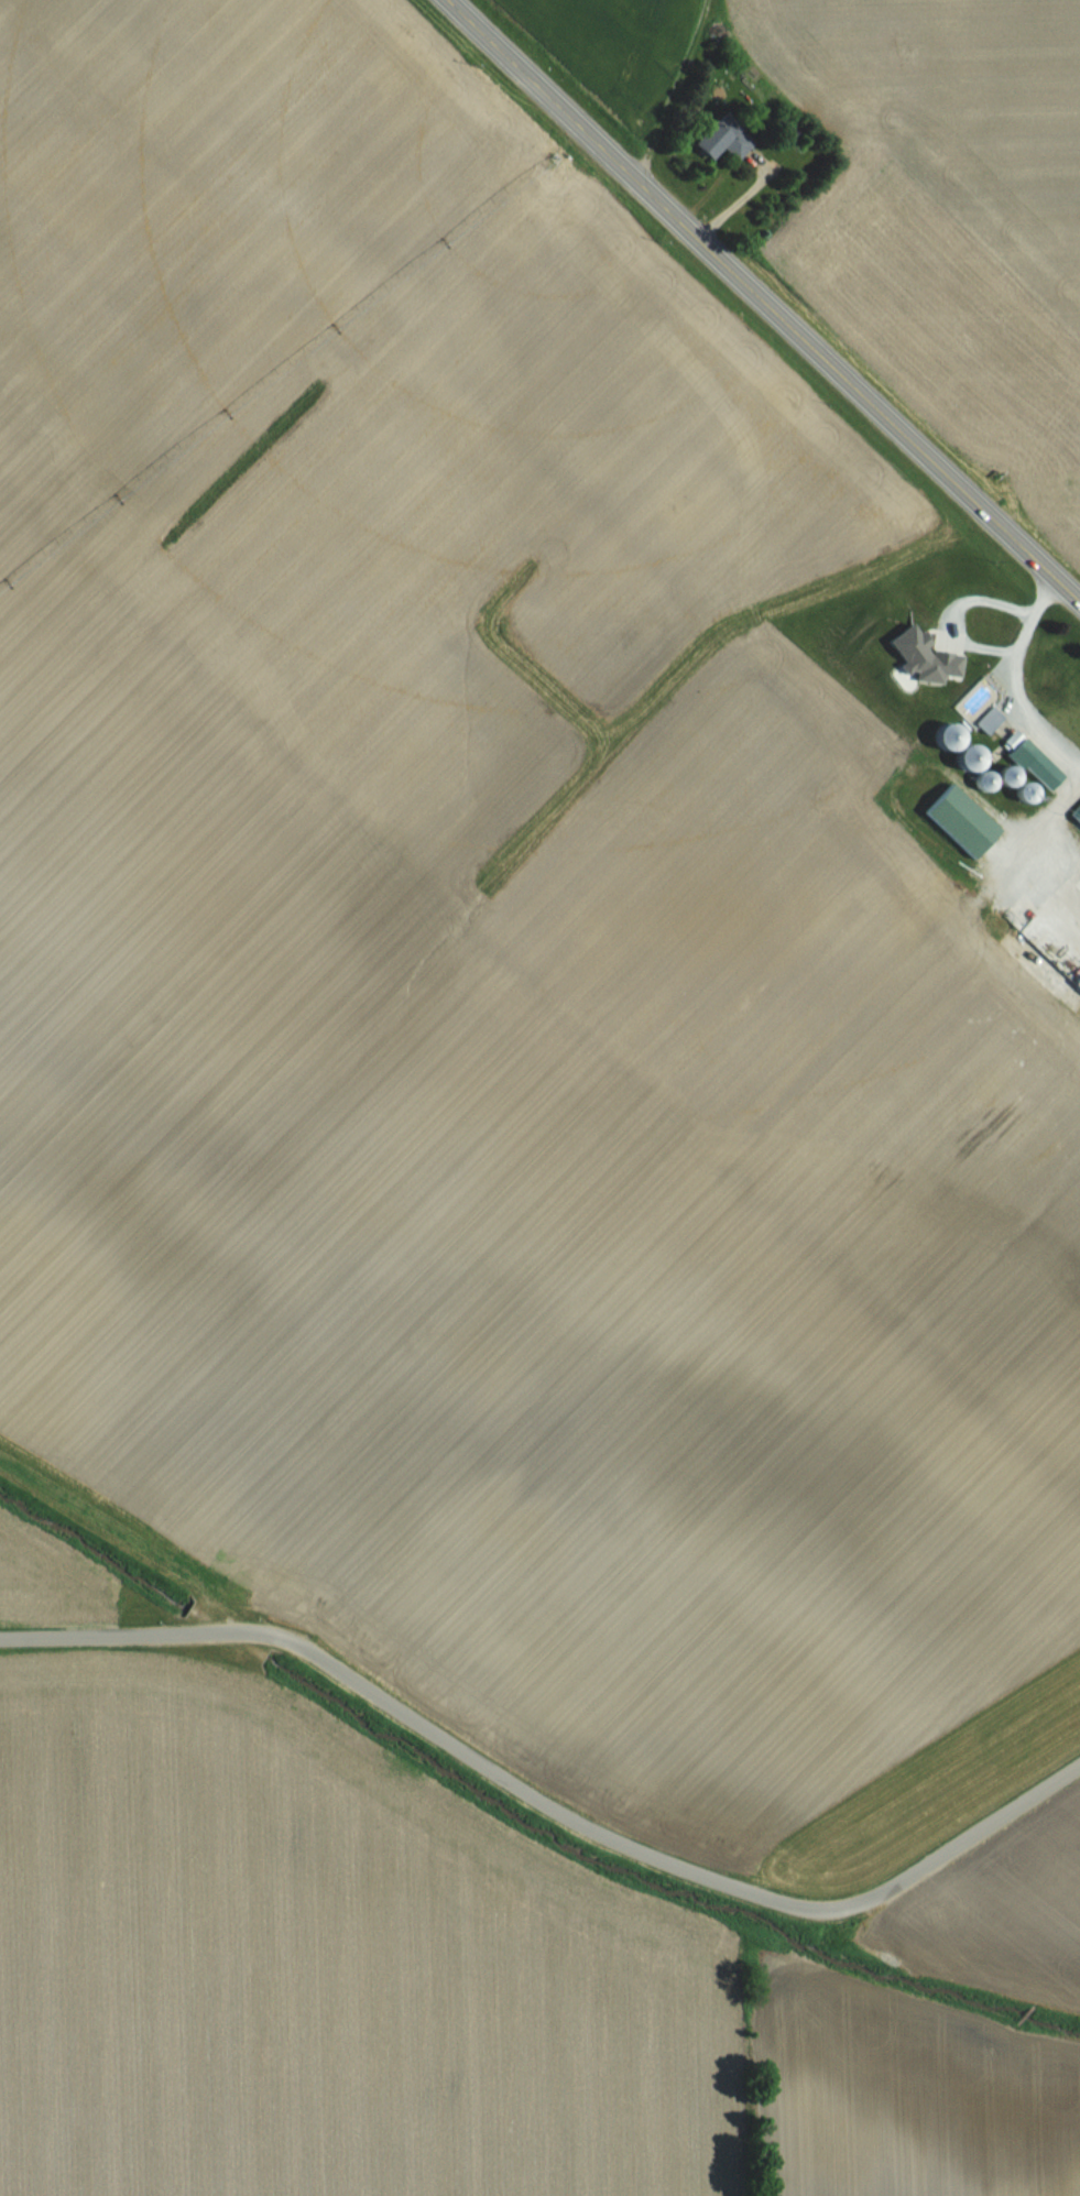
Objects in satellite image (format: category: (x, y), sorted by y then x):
building: (718, 139)
road: (764, 303)
building: (1046, 674)
road: (1007, 684)
building: (988, 720)
building: (952, 745)
building: (1030, 761)
building: (1003, 774)
building: (980, 779)
building: (1021, 790)
building: (958, 818)
building: (1051, 947)
road: (544, 1805)

